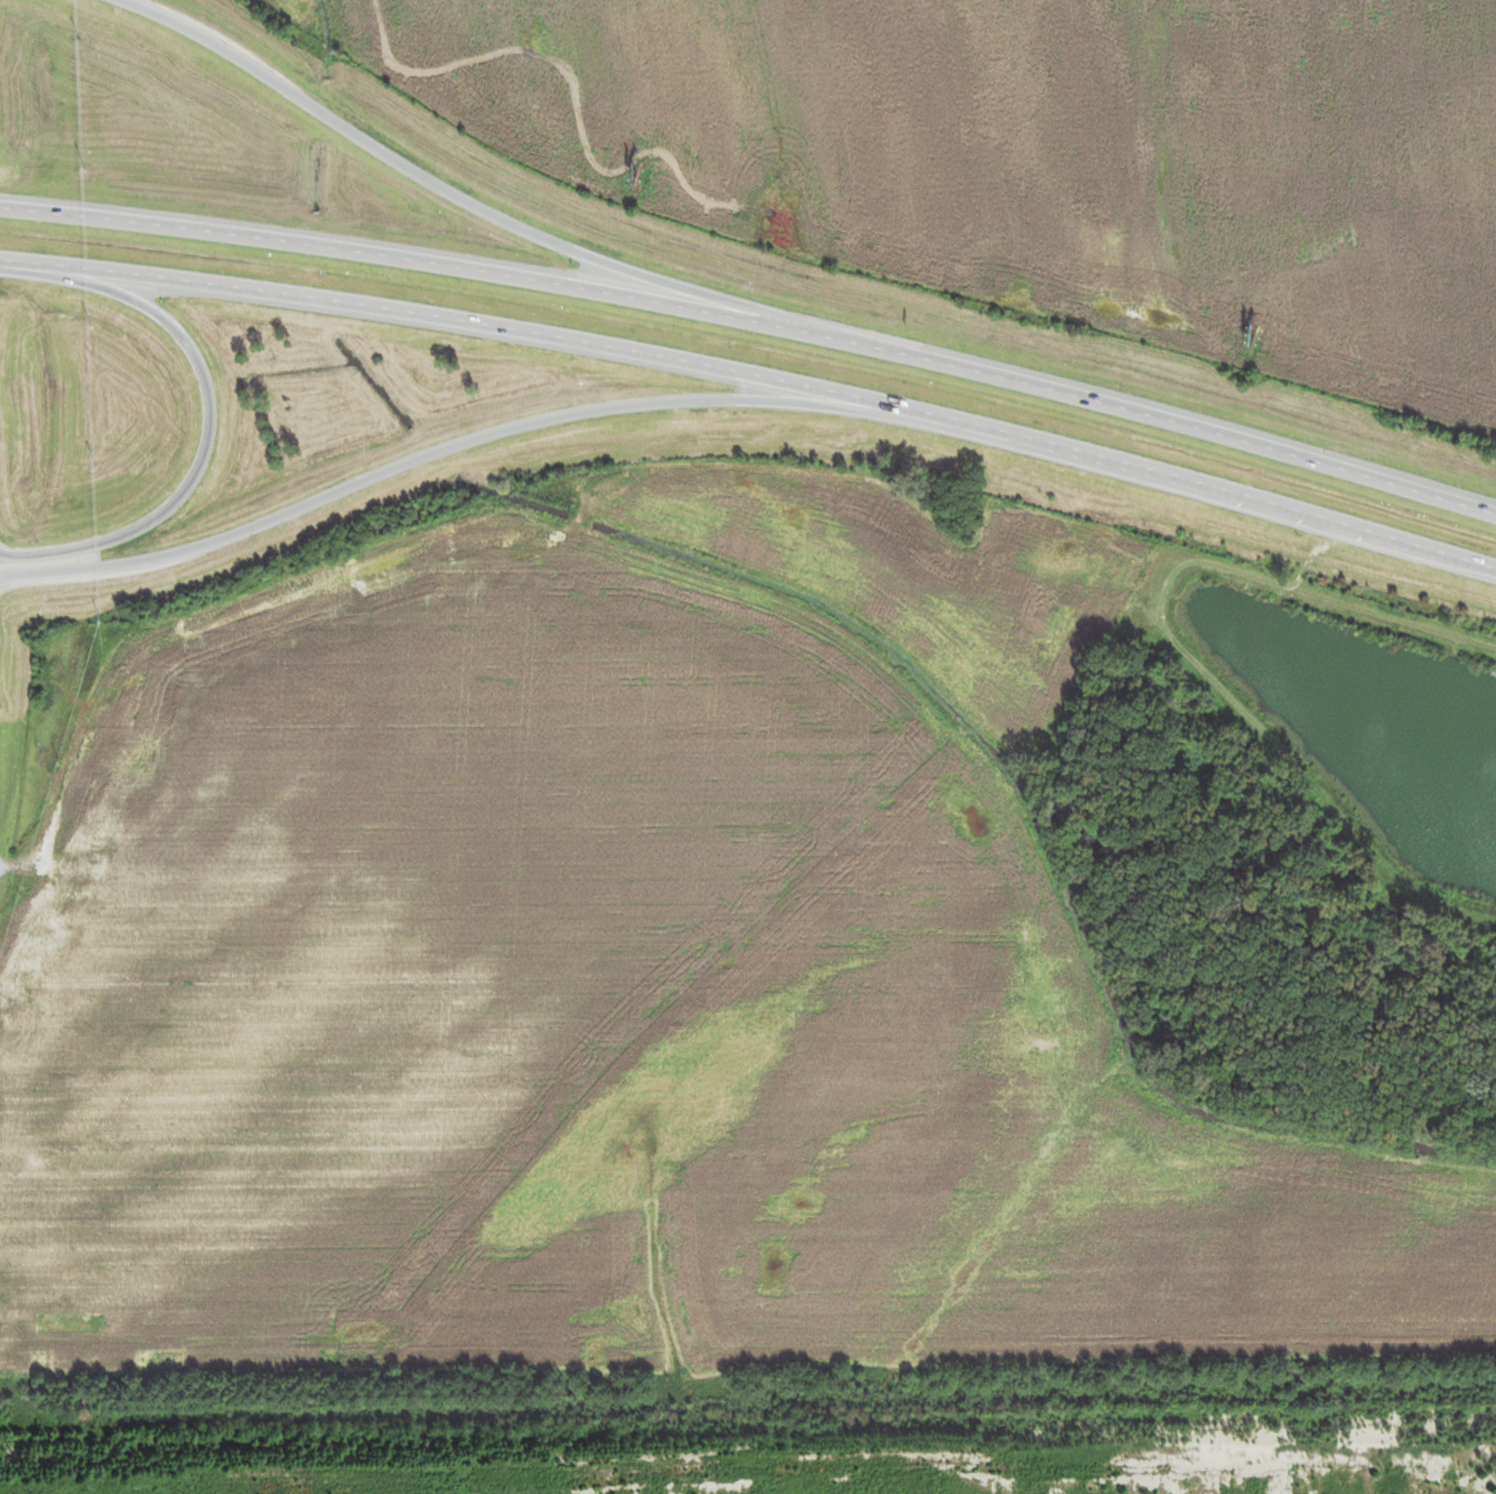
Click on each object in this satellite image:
road: (484, 214)
road: (755, 324)
road: (534, 334)
road: (210, 416)
road: (520, 428)
road: (1273, 508)
road: (1491, 569)
road: (25, 1413)

